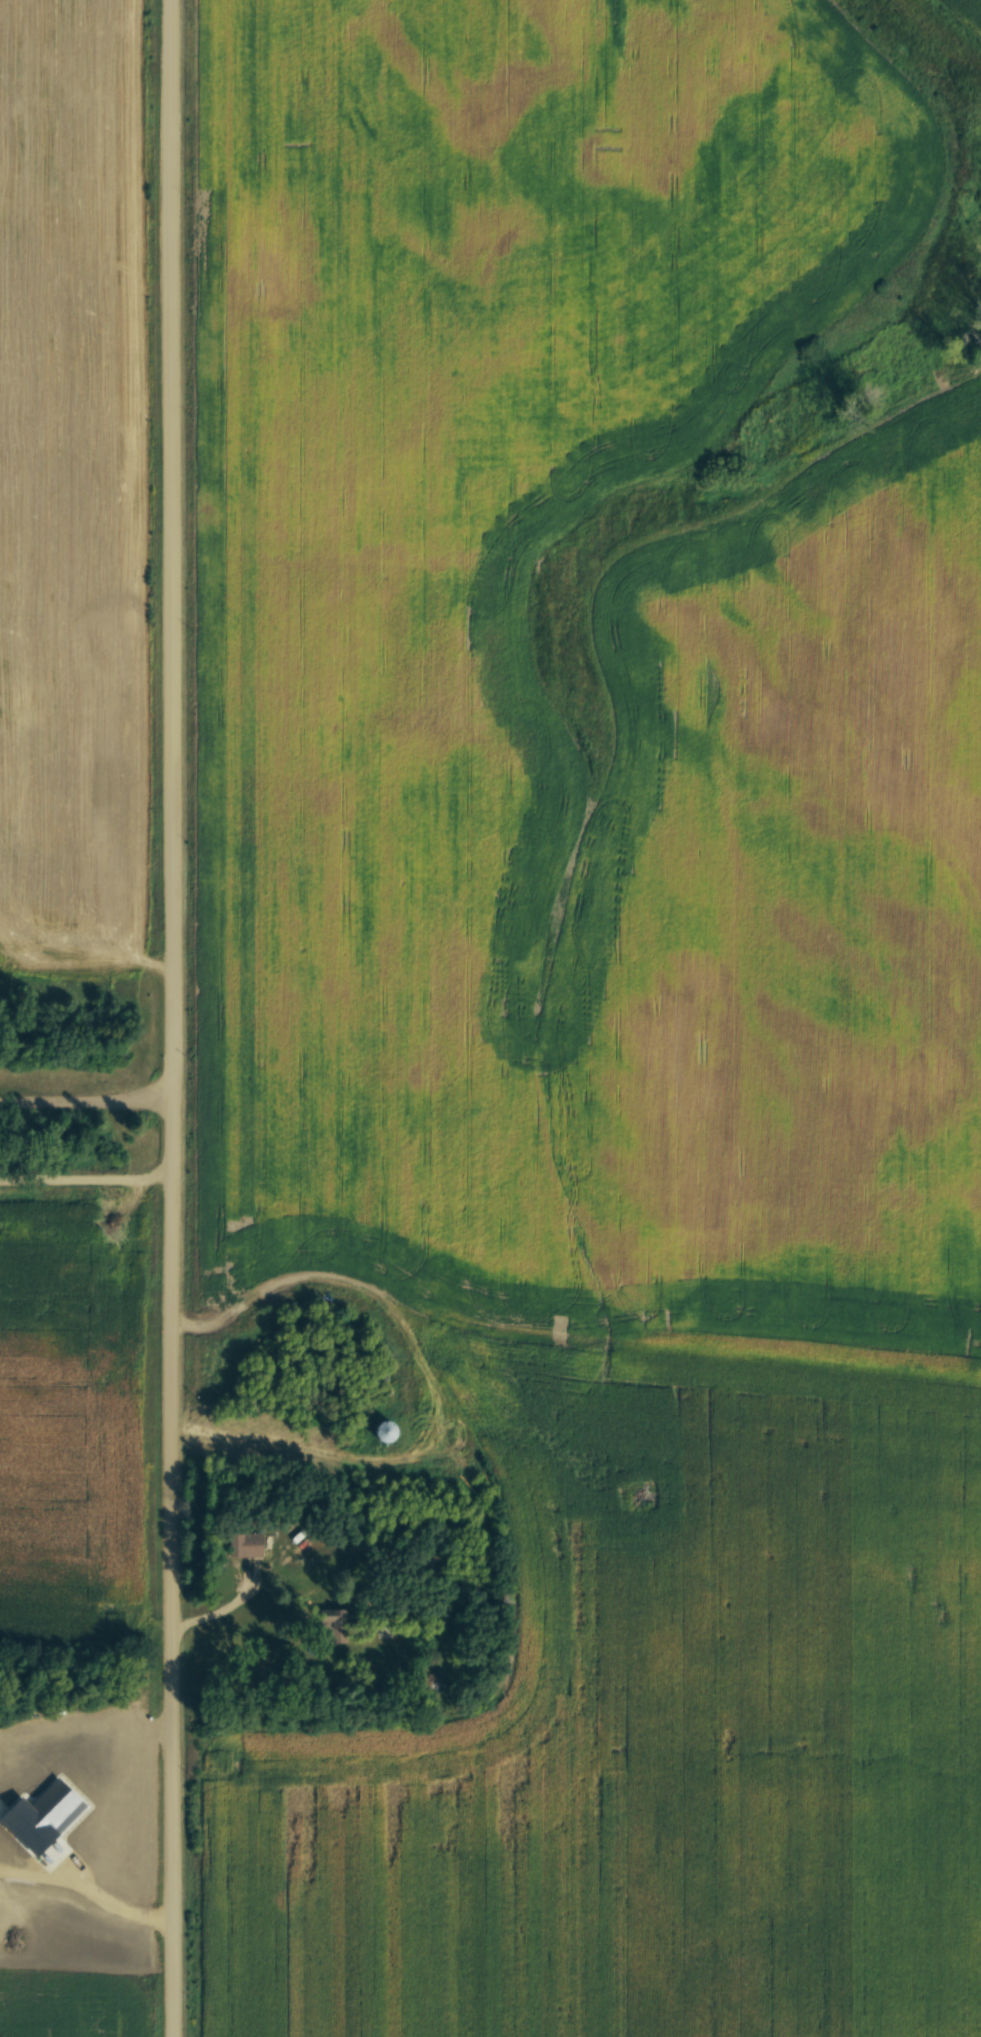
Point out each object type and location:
road: (178, 1018)
road: (89, 1100)
road: (89, 1175)
building: (379, 1430)
building: (243, 1544)
road: (229, 1609)
road: (86, 1716)
road: (89, 1886)

